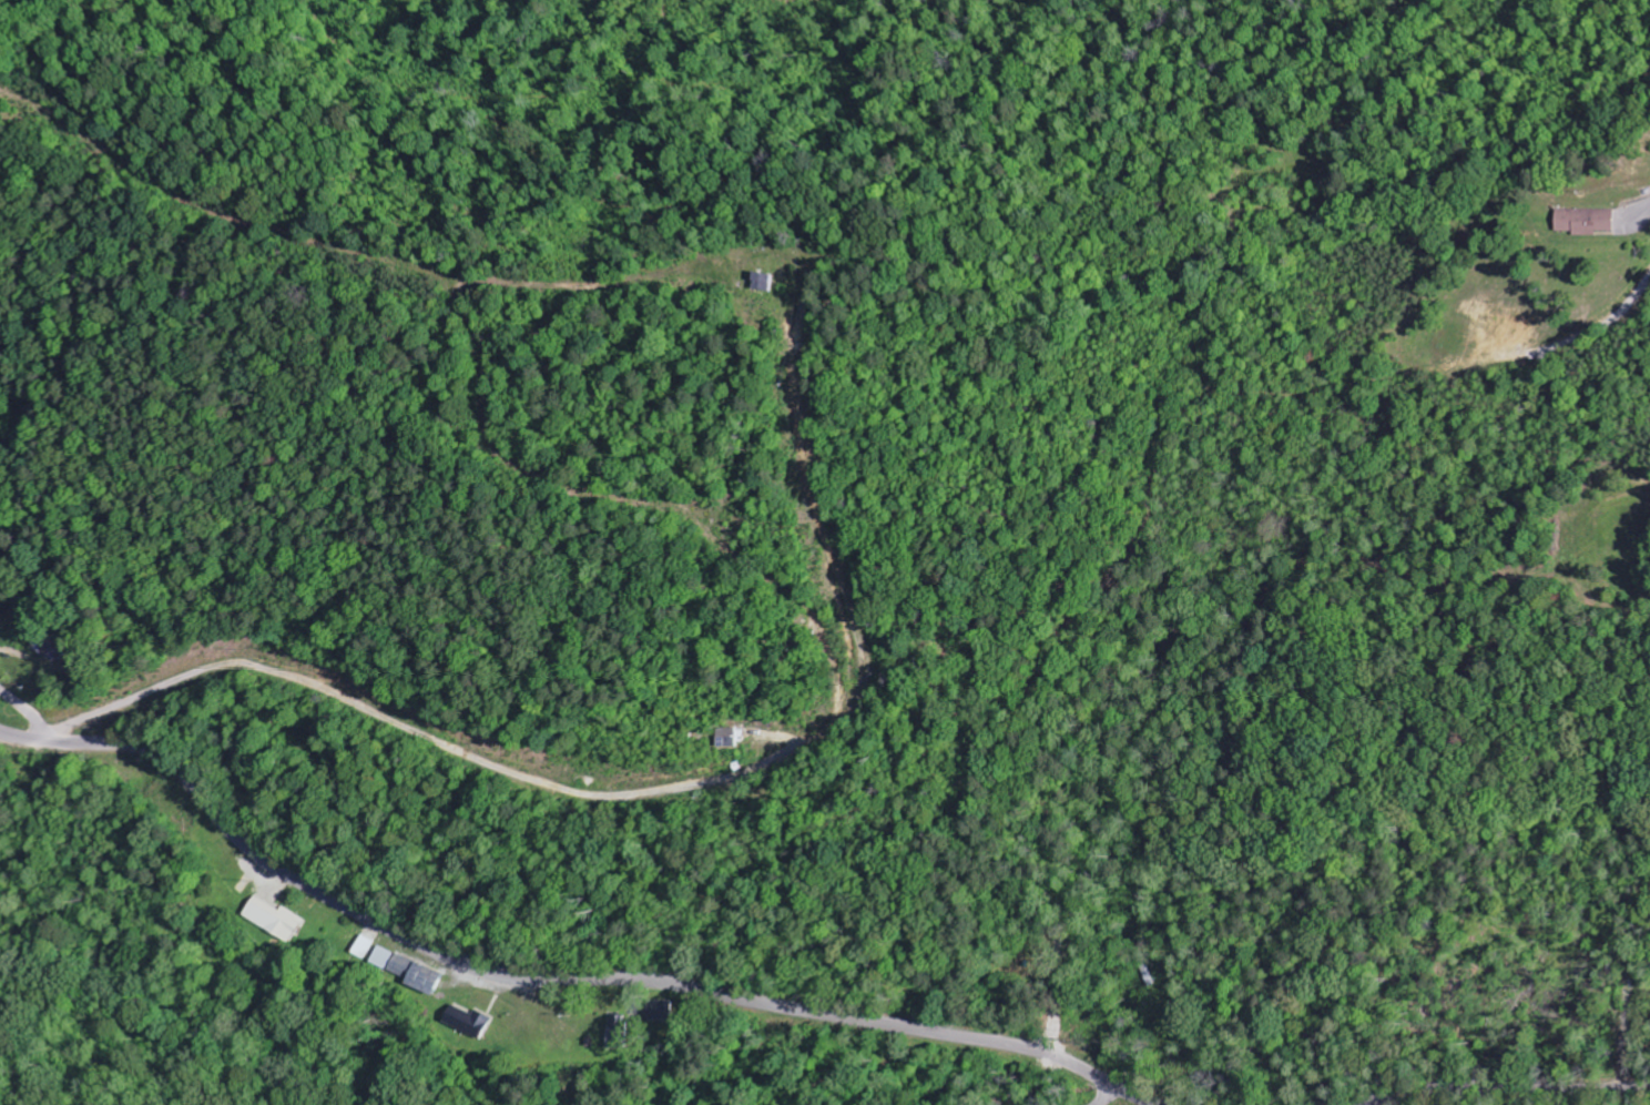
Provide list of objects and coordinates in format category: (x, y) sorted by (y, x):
building: (1585, 222)
building: (762, 283)
road: (30, 714)
building: (724, 738)
building: (272, 919)
building: (363, 947)
building: (405, 970)
road: (546, 980)
building: (660, 1011)
building: (468, 1021)
road: (1511, 1091)
road: (1107, 1096)

